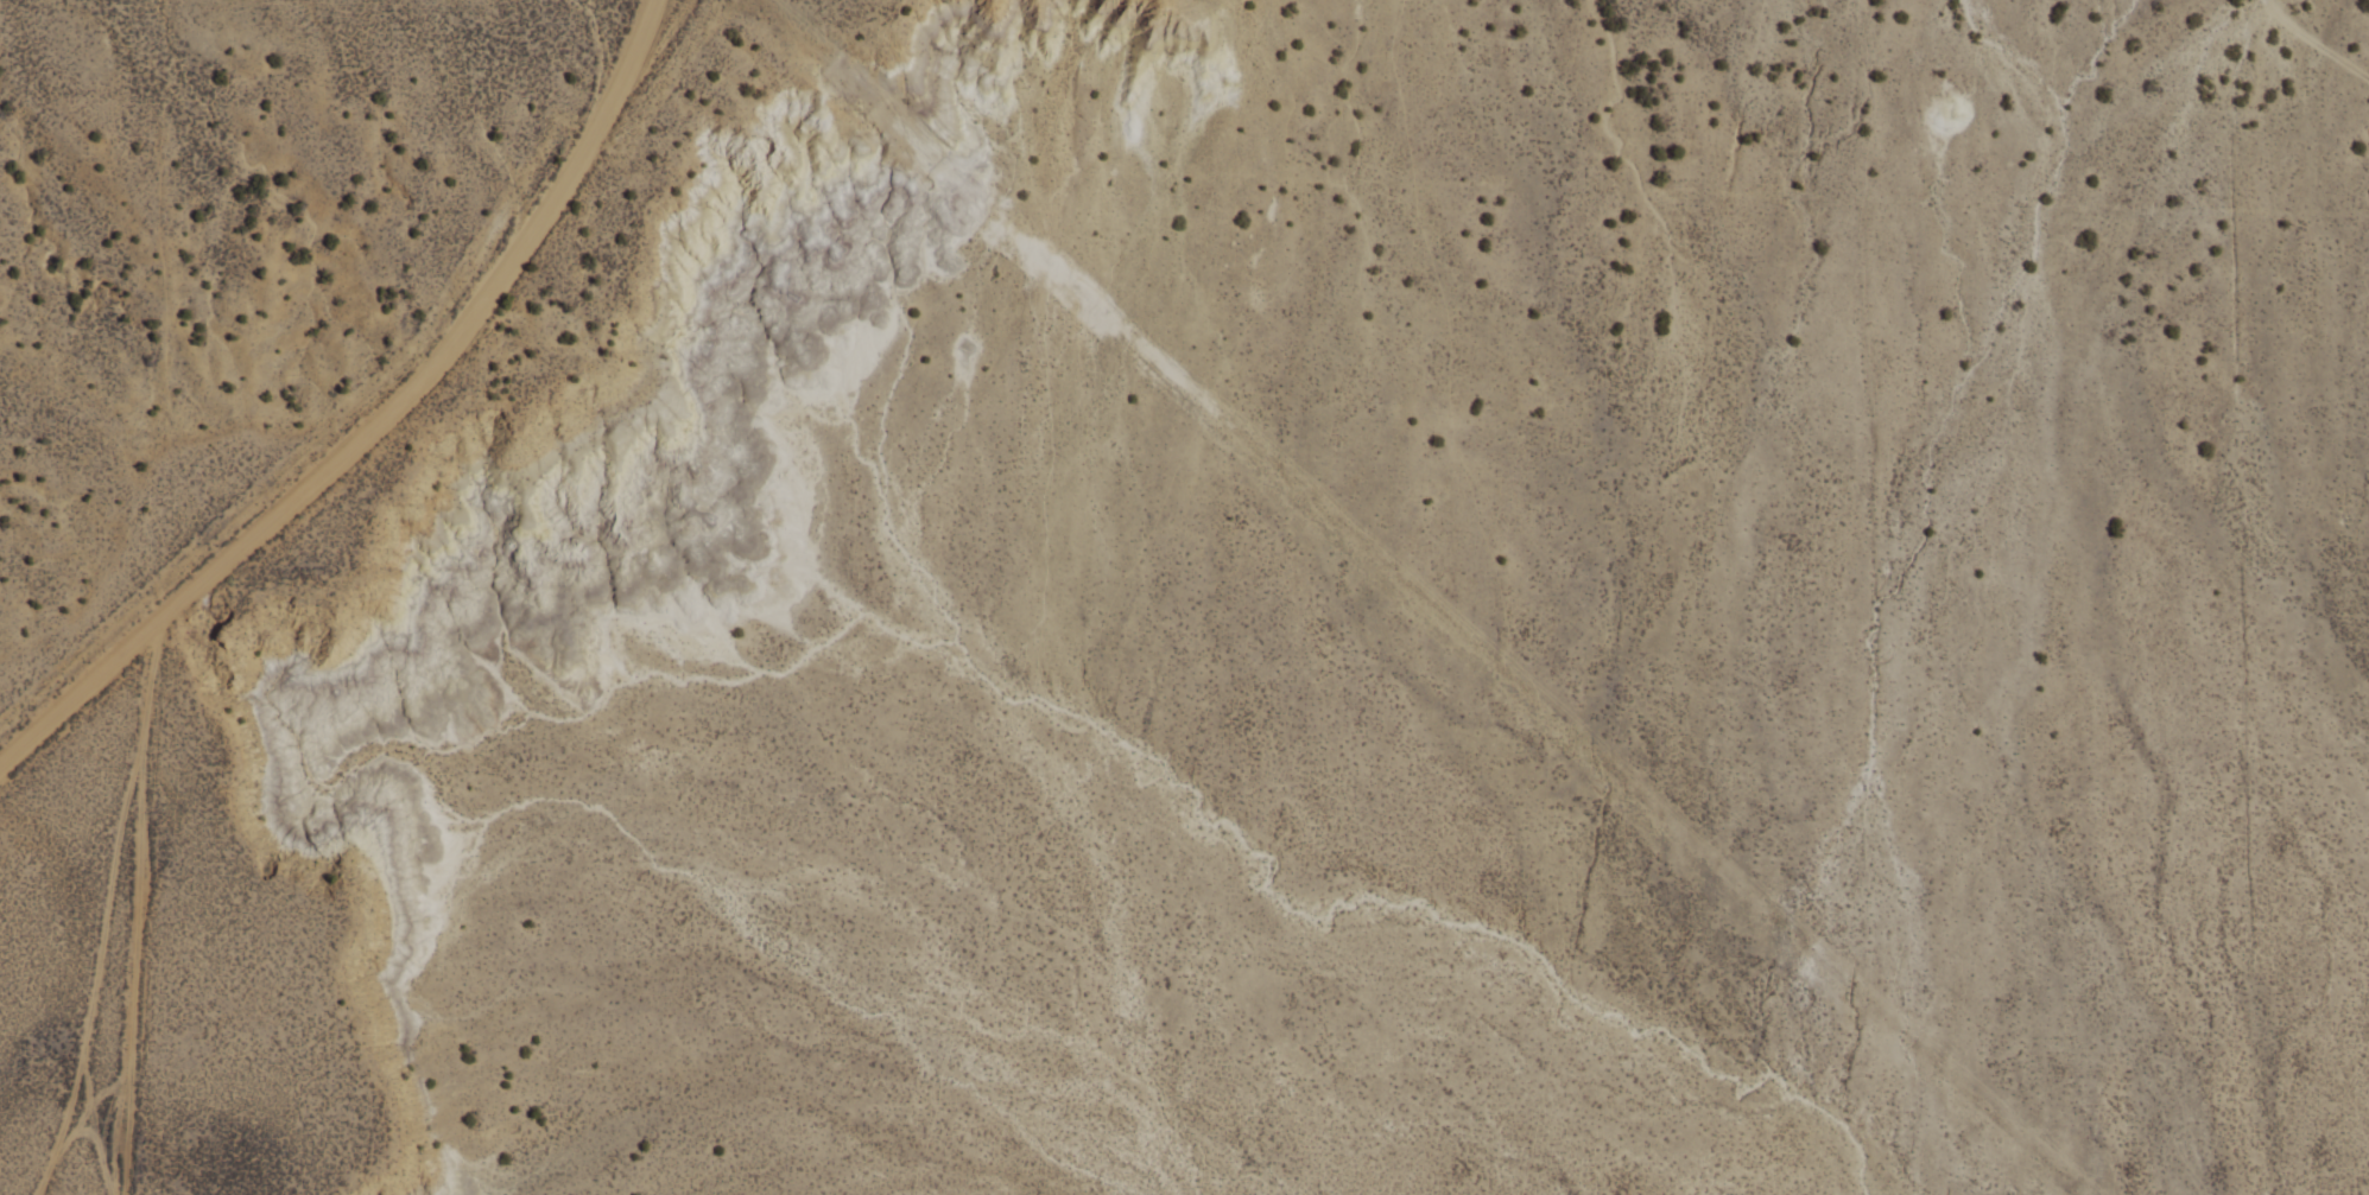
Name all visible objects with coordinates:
road: (639, 75)
road: (379, 424)
road: (134, 904)

